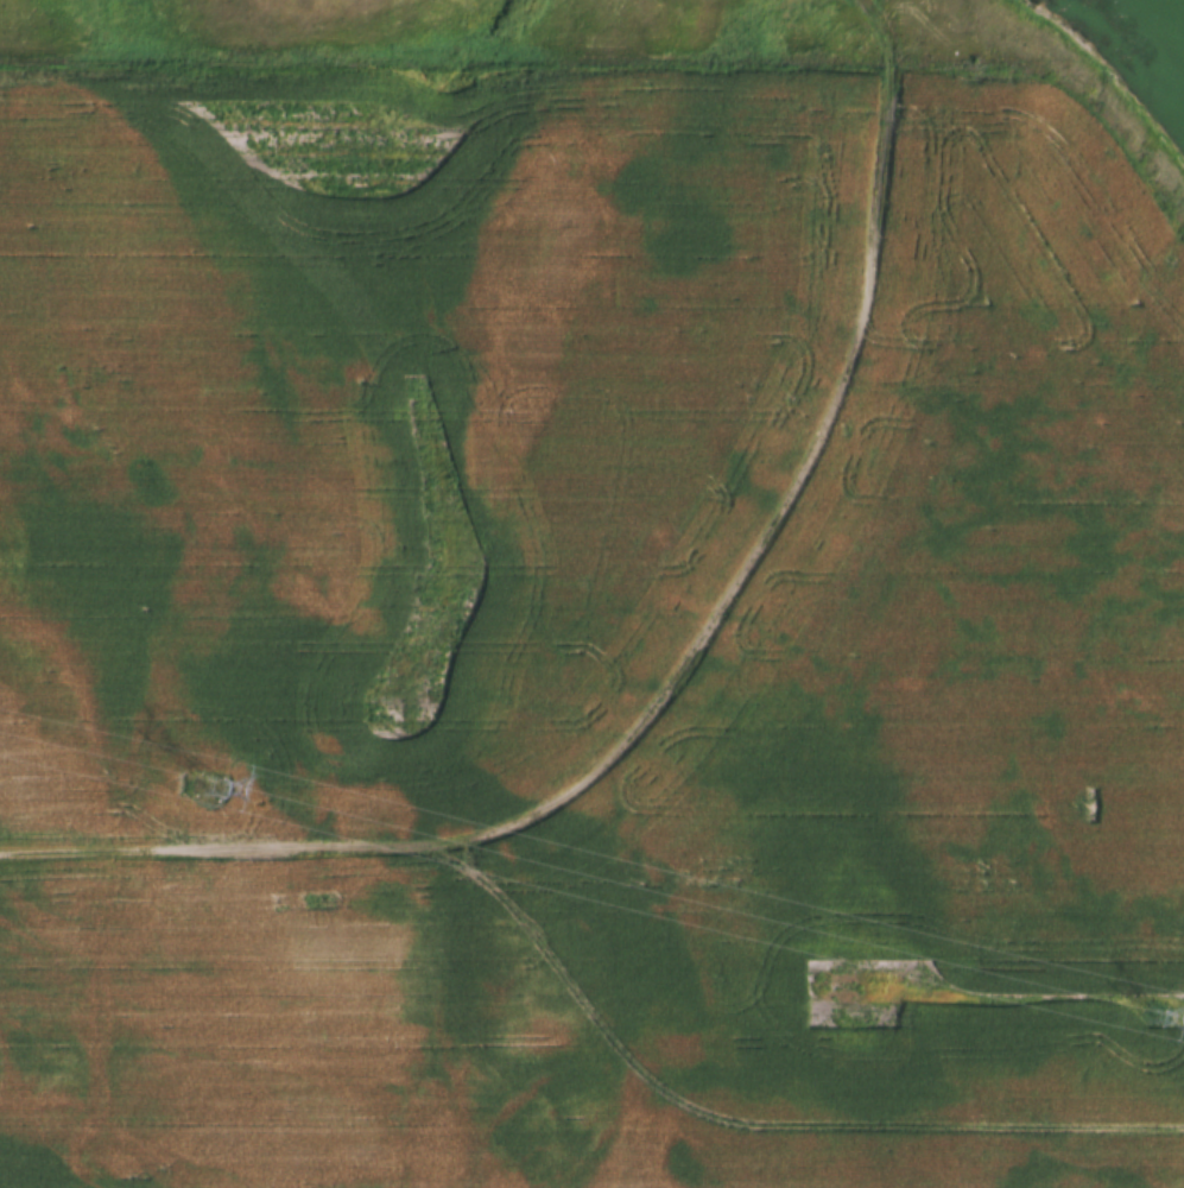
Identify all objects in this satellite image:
power tower: (210, 775)
power tower: (1159, 1016)

